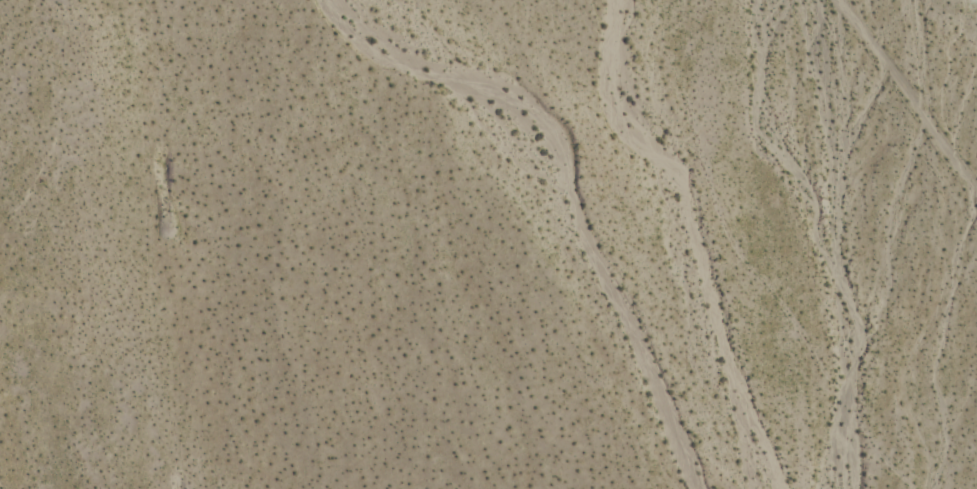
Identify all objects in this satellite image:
road: (890, 110)

